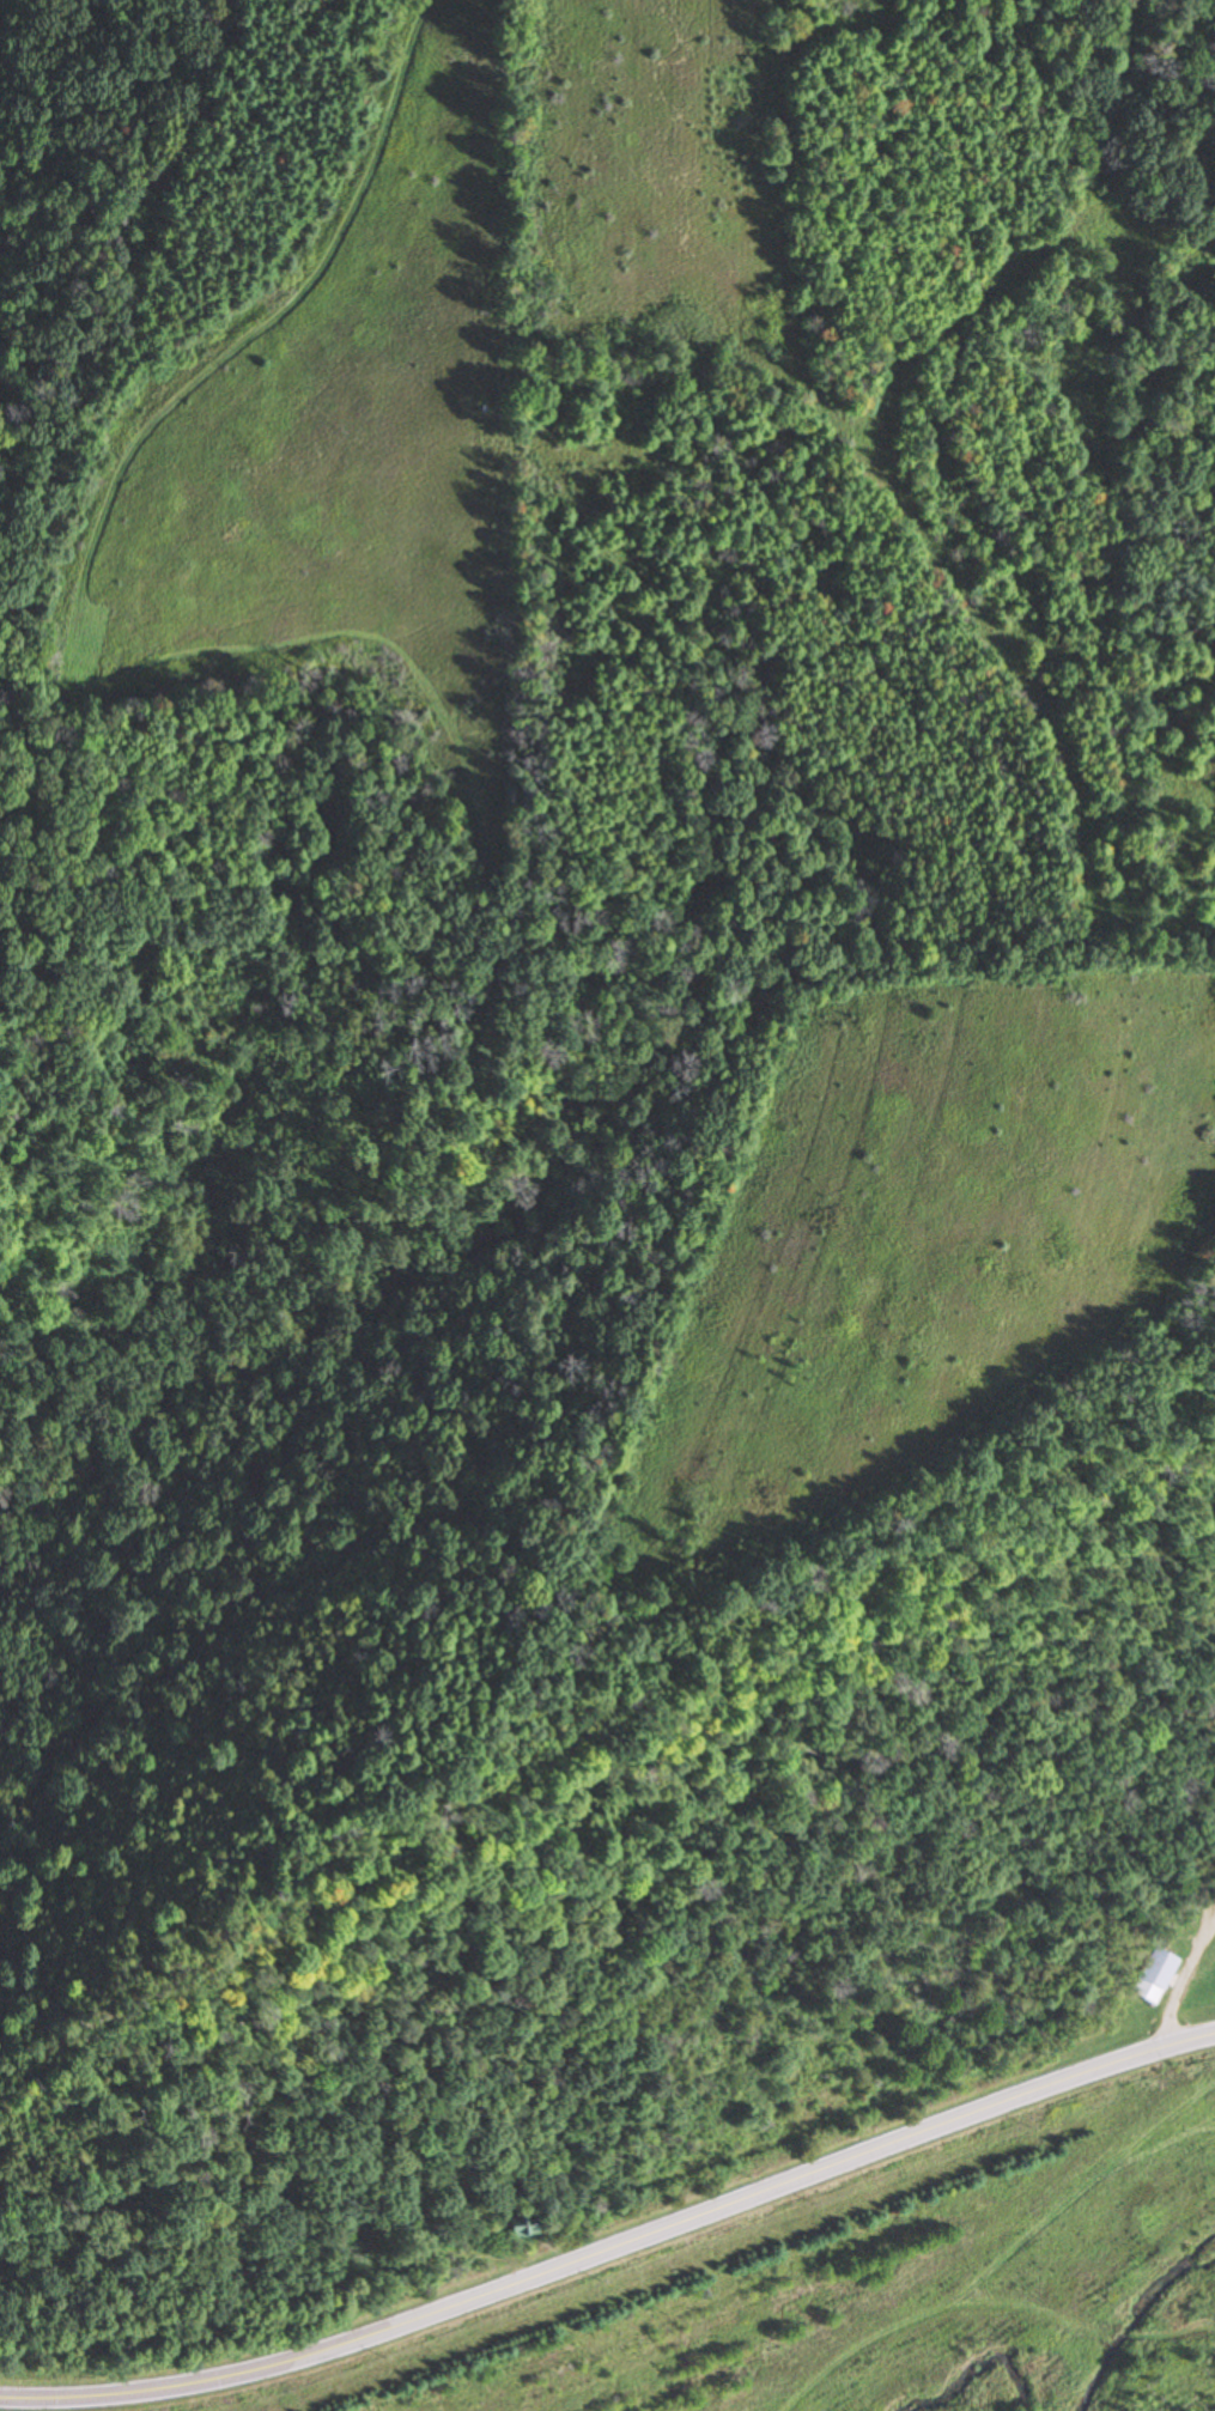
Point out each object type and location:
road: (1186, 1972)
building: (1152, 1978)
building: (537, 2227)
road: (614, 2248)

